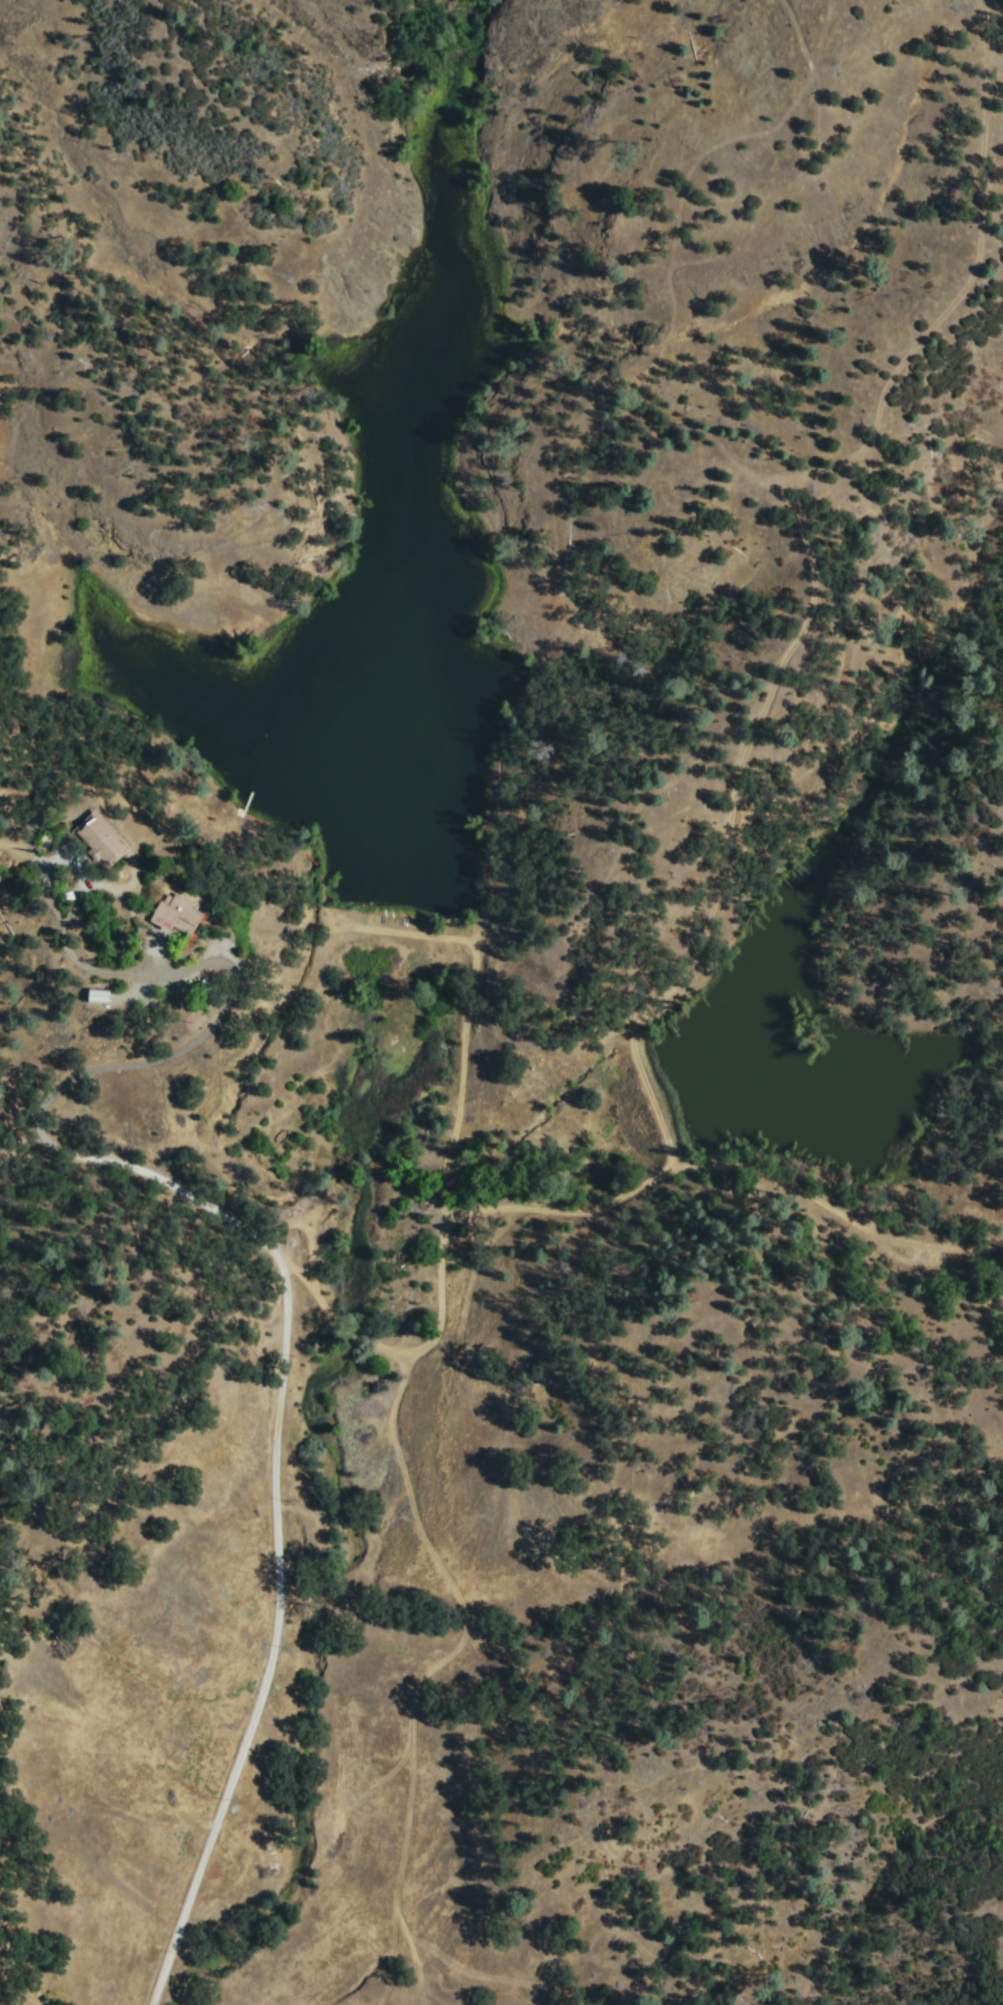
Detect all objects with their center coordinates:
building: (106, 836)
building: (183, 914)
dam: (400, 914)
road: (279, 1647)

